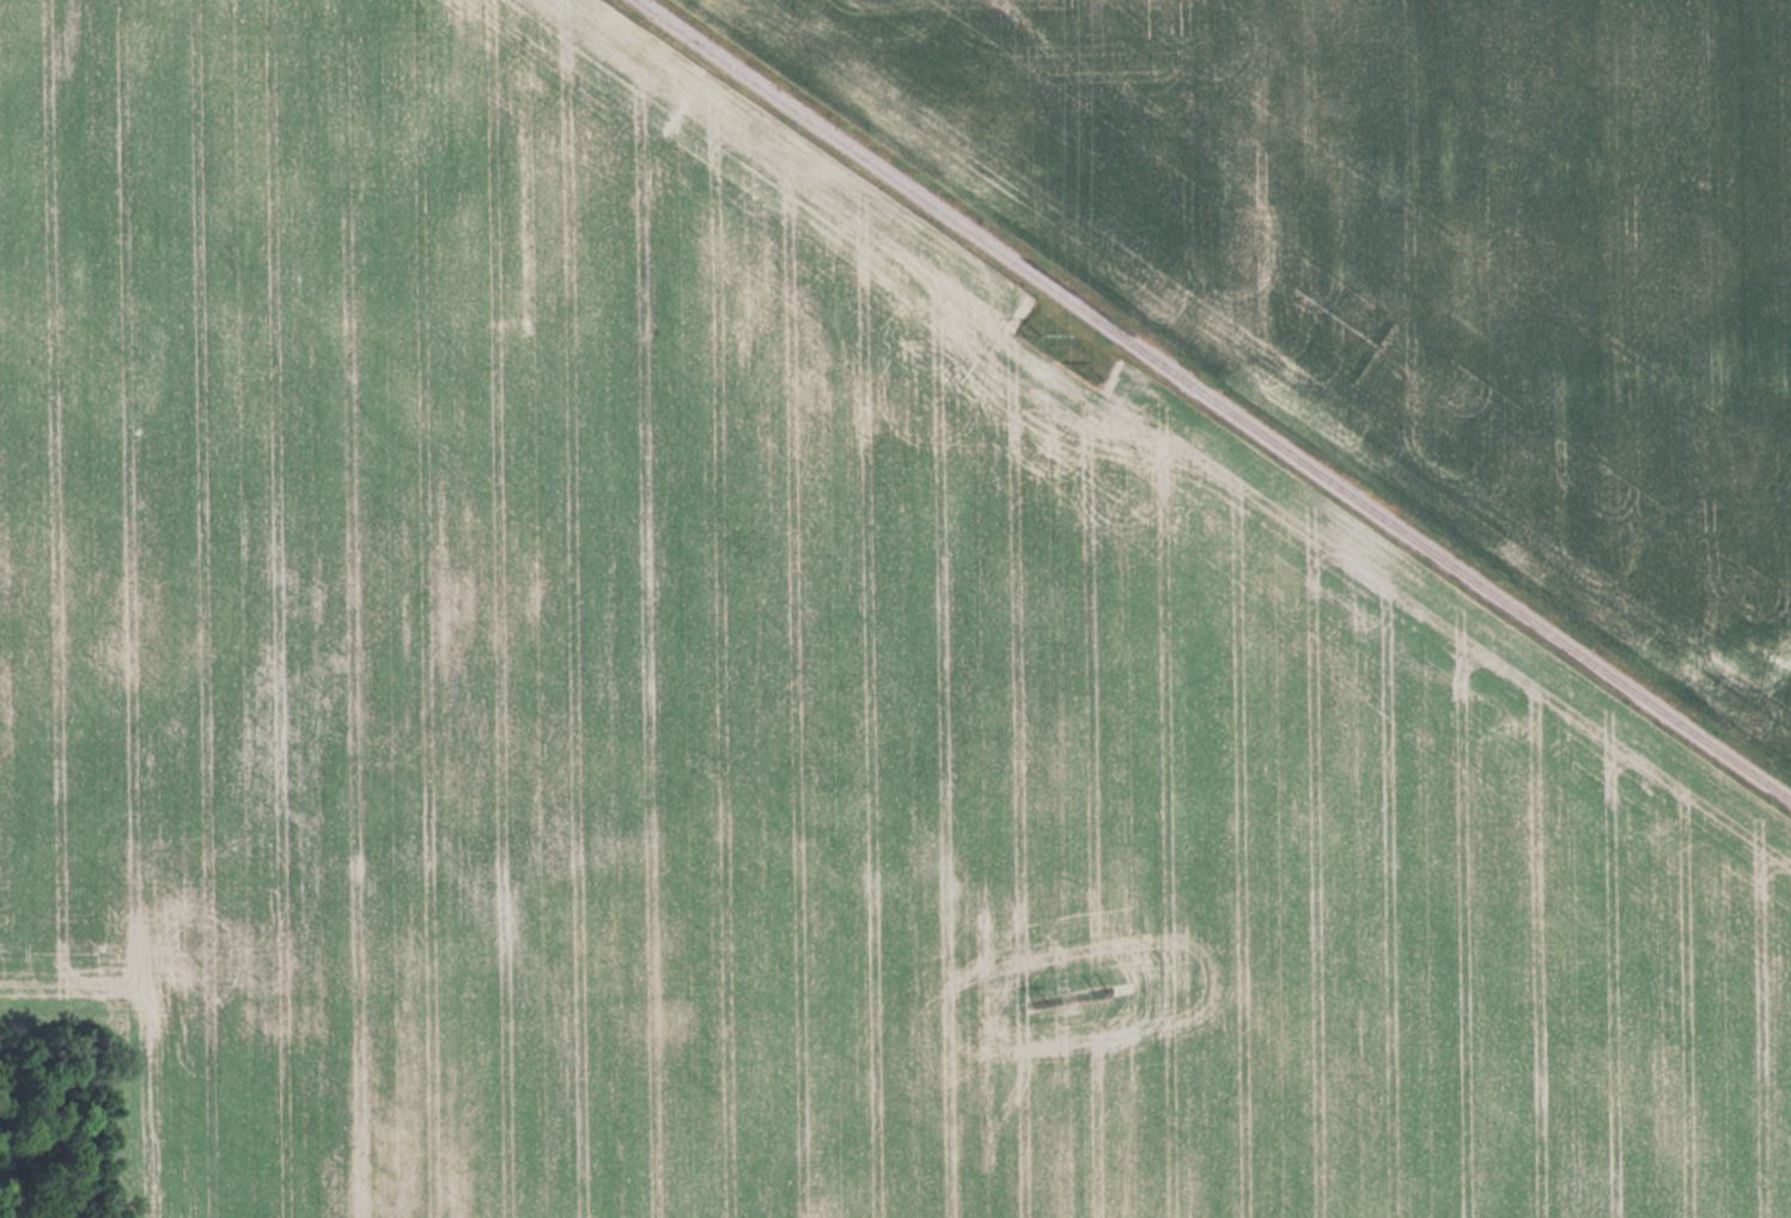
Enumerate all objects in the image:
power tower: (1030, 333)
power tower: (1094, 377)
railway: (1214, 398)
power tower: (1101, 998)
power tower: (1038, 999)

